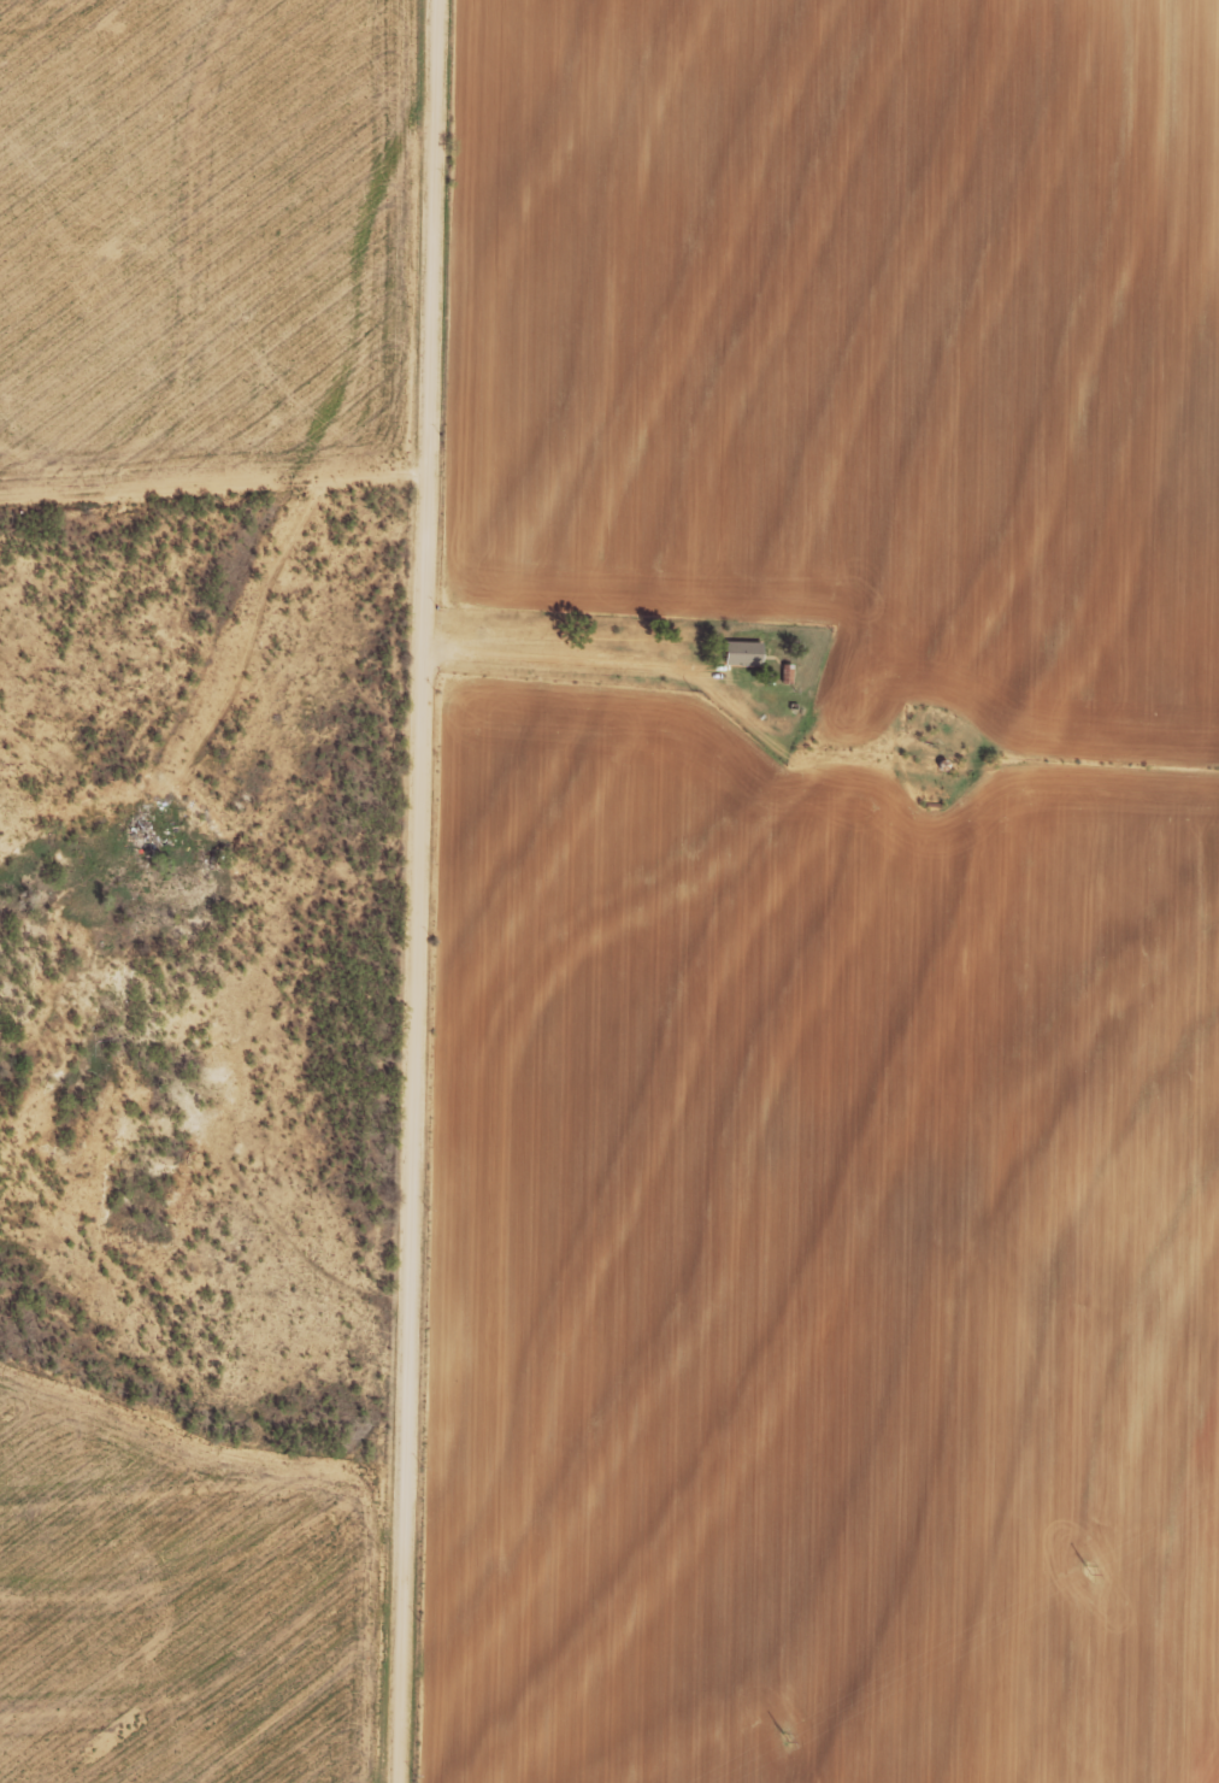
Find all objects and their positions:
building: (738, 651)
road: (815, 734)
road: (419, 890)
road: (207, 1118)
power tower: (1086, 1570)
power tower: (782, 1738)

